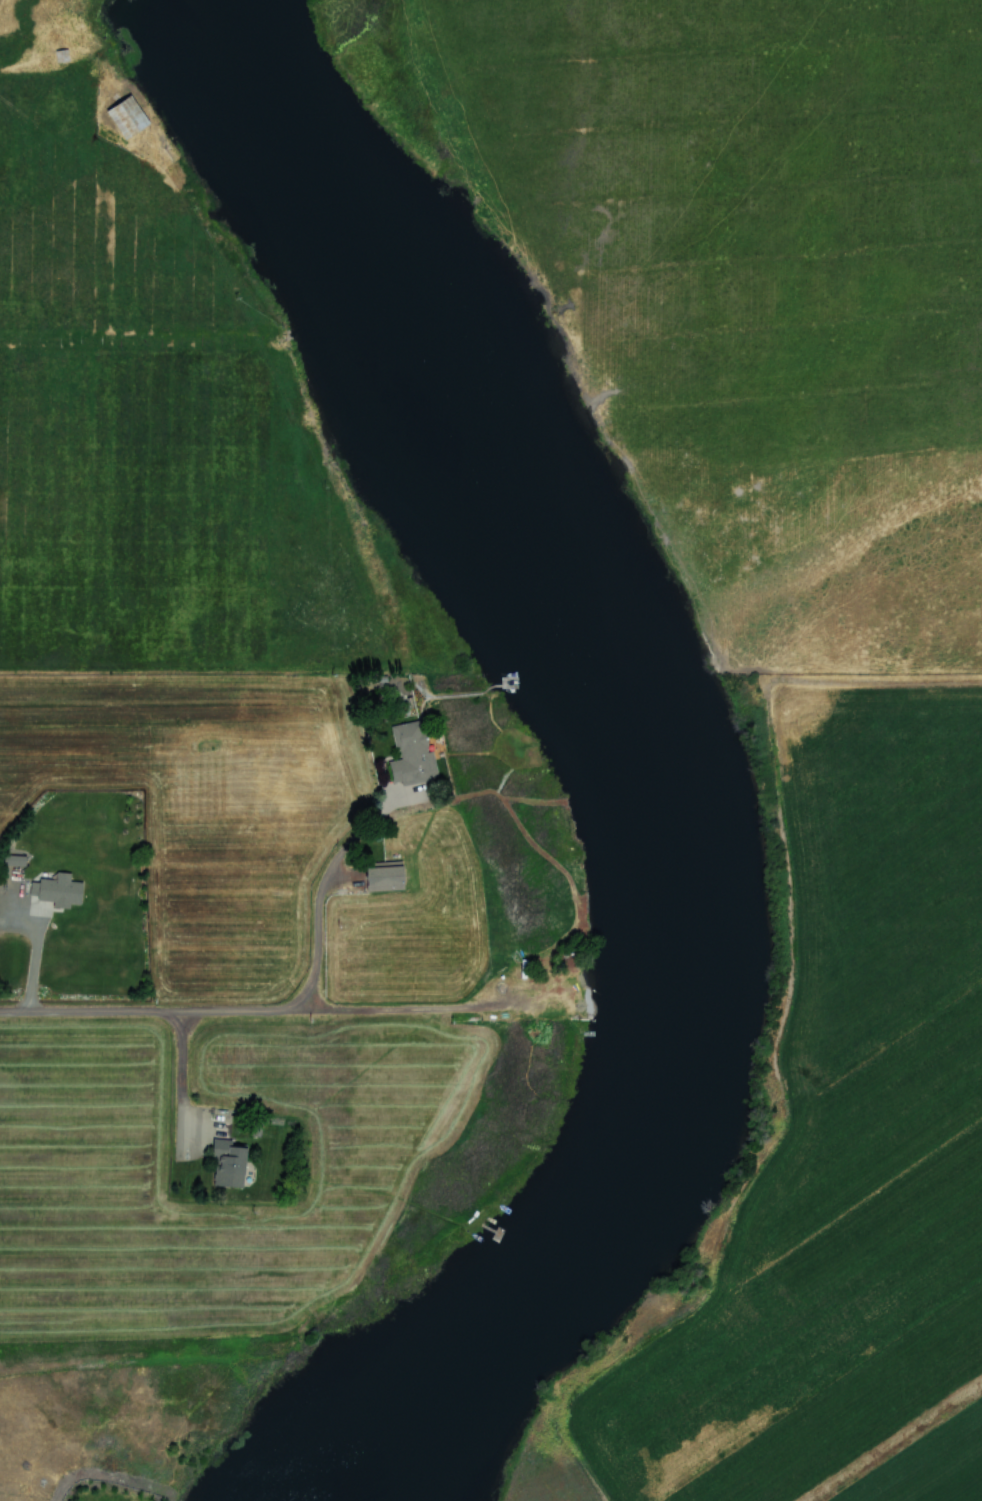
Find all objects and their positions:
building: (129, 117)
river: (619, 753)
building: (413, 754)
building: (16, 860)
building: (387, 877)
building: (58, 891)
building: (232, 1164)

